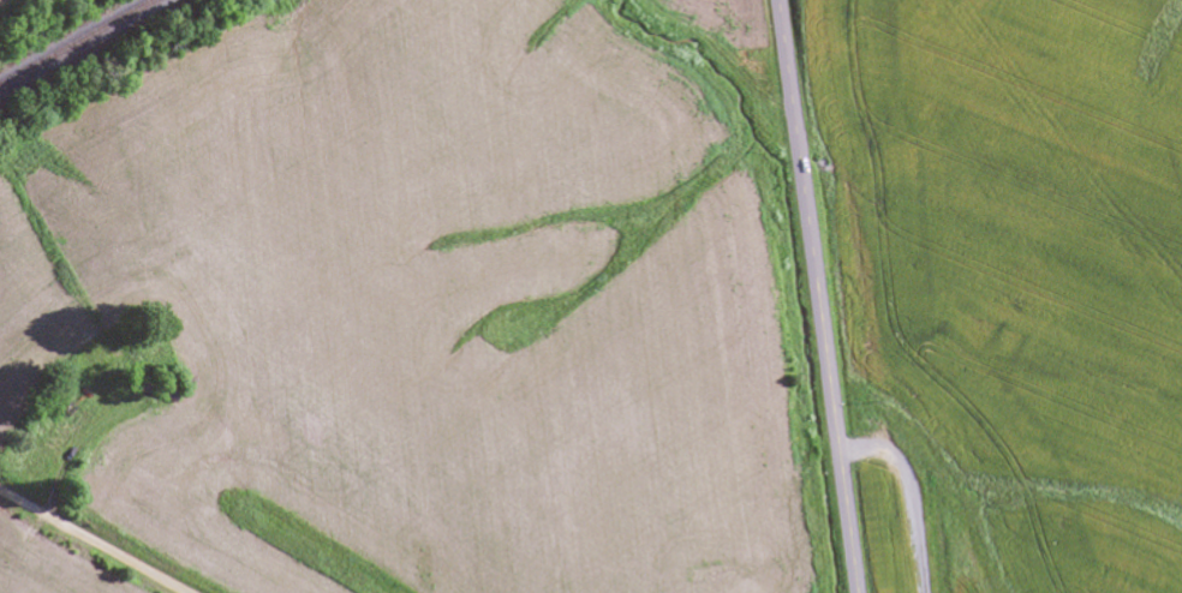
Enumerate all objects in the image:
railway: (76, 42)
road: (817, 296)
road: (88, 543)

